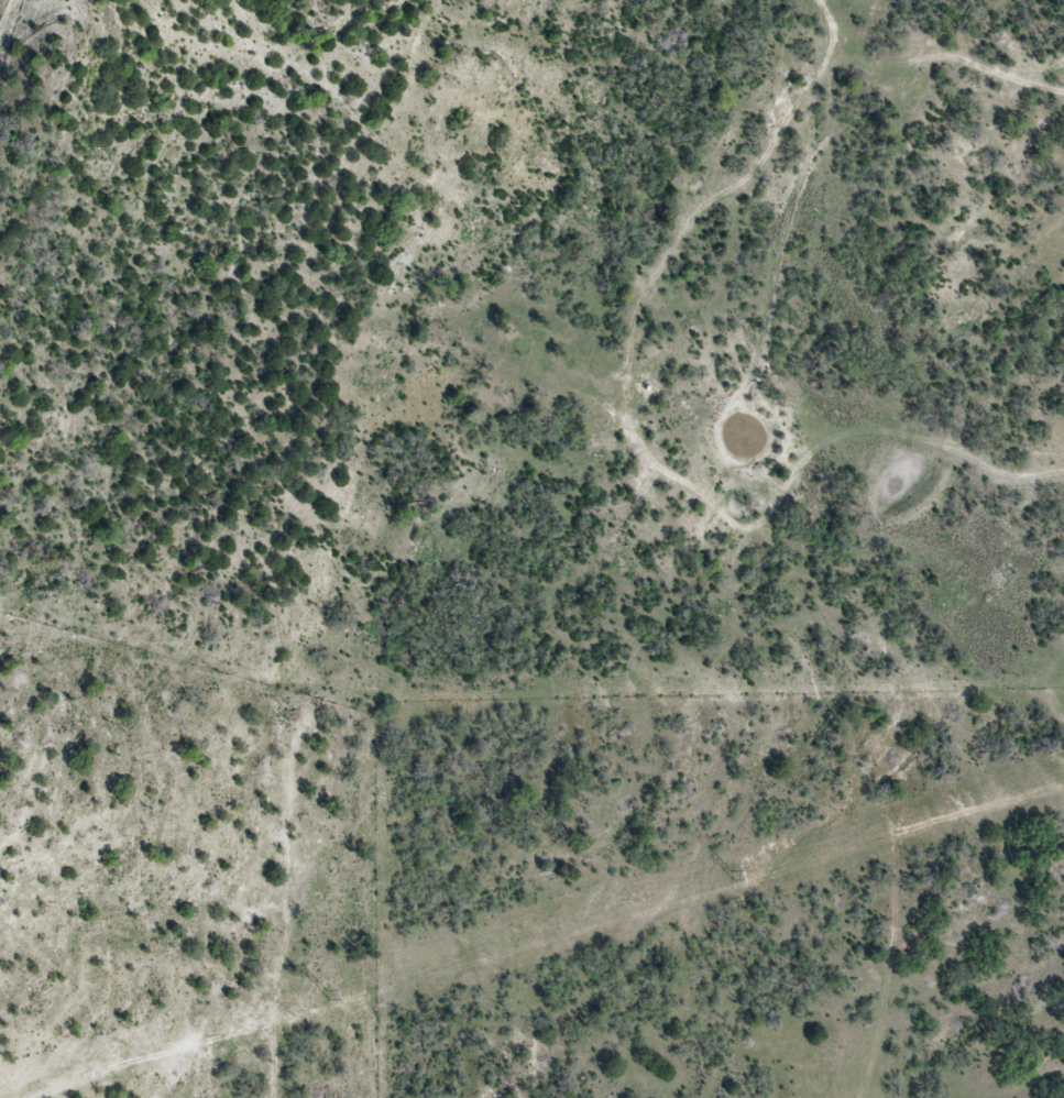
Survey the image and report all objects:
road: (4, 14)
power tower: (732, 876)
power tower: (330, 995)

